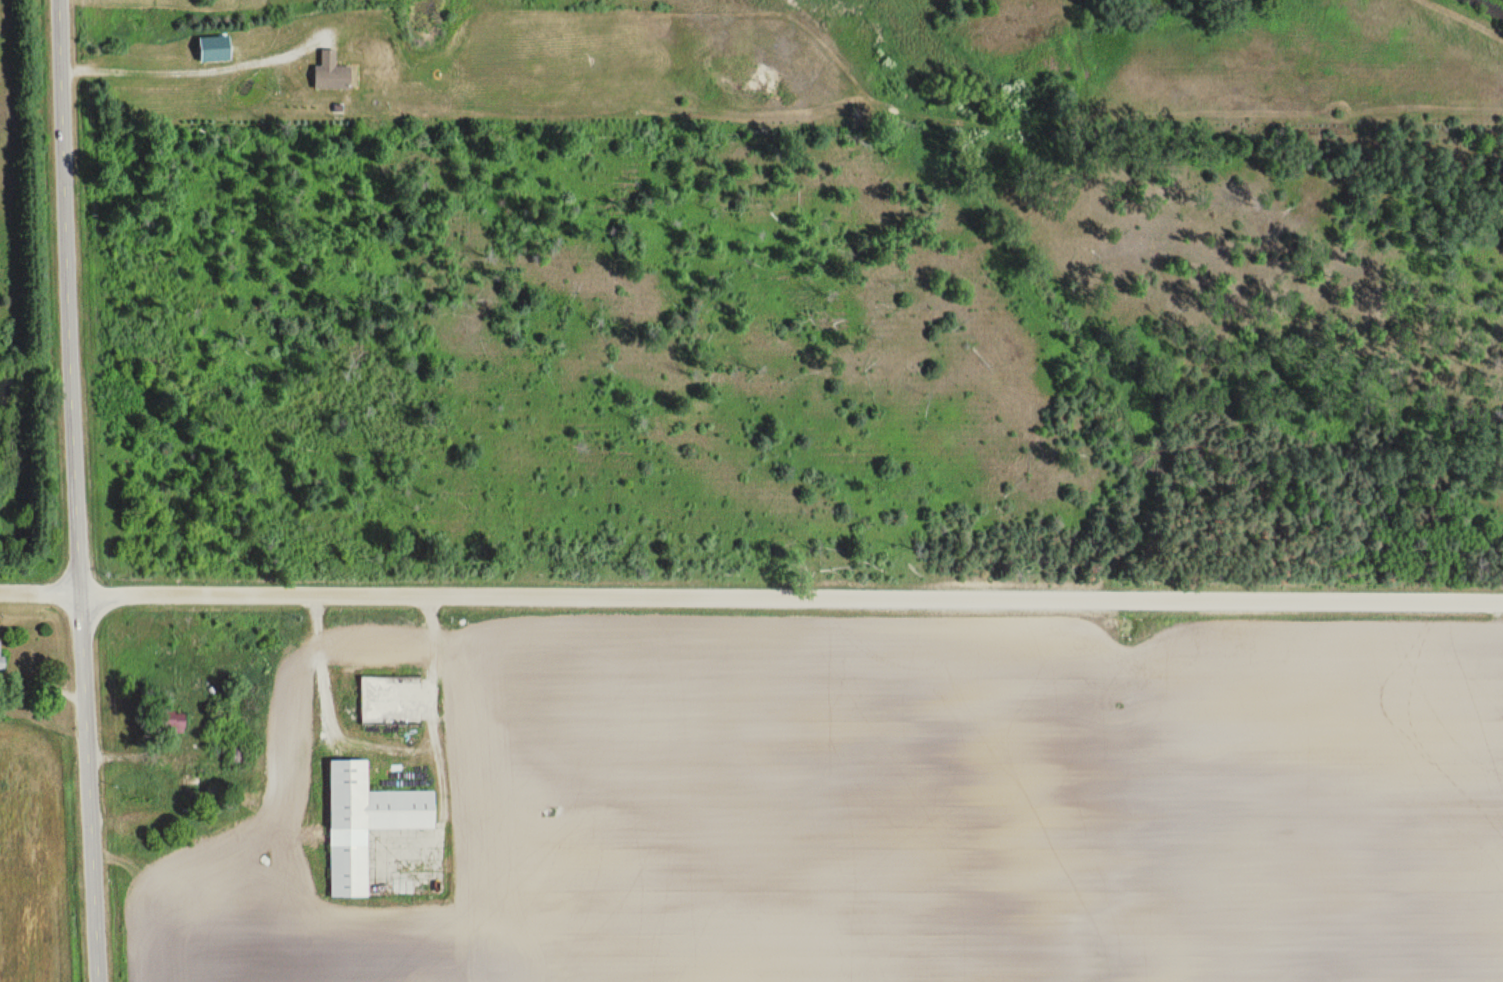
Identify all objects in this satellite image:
building: (332, 73)
road: (75, 491)
road: (751, 587)
building: (391, 700)
building: (172, 721)
building: (194, 780)
building: (367, 821)

